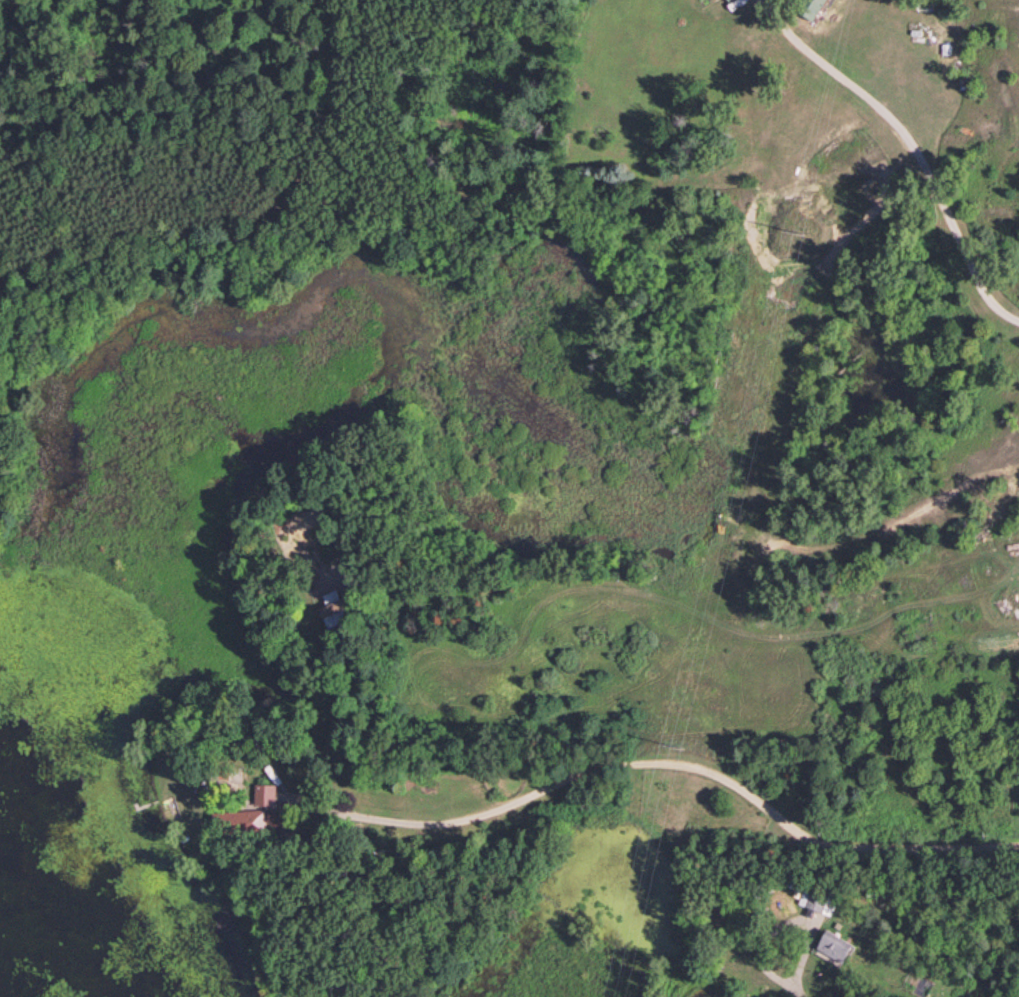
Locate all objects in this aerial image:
building: (810, 8)
road: (911, 143)
power tower: (800, 229)
building: (336, 608)
power tower: (677, 746)
road: (660, 764)
building: (265, 794)
building: (240, 820)
building: (818, 899)
building: (835, 945)

